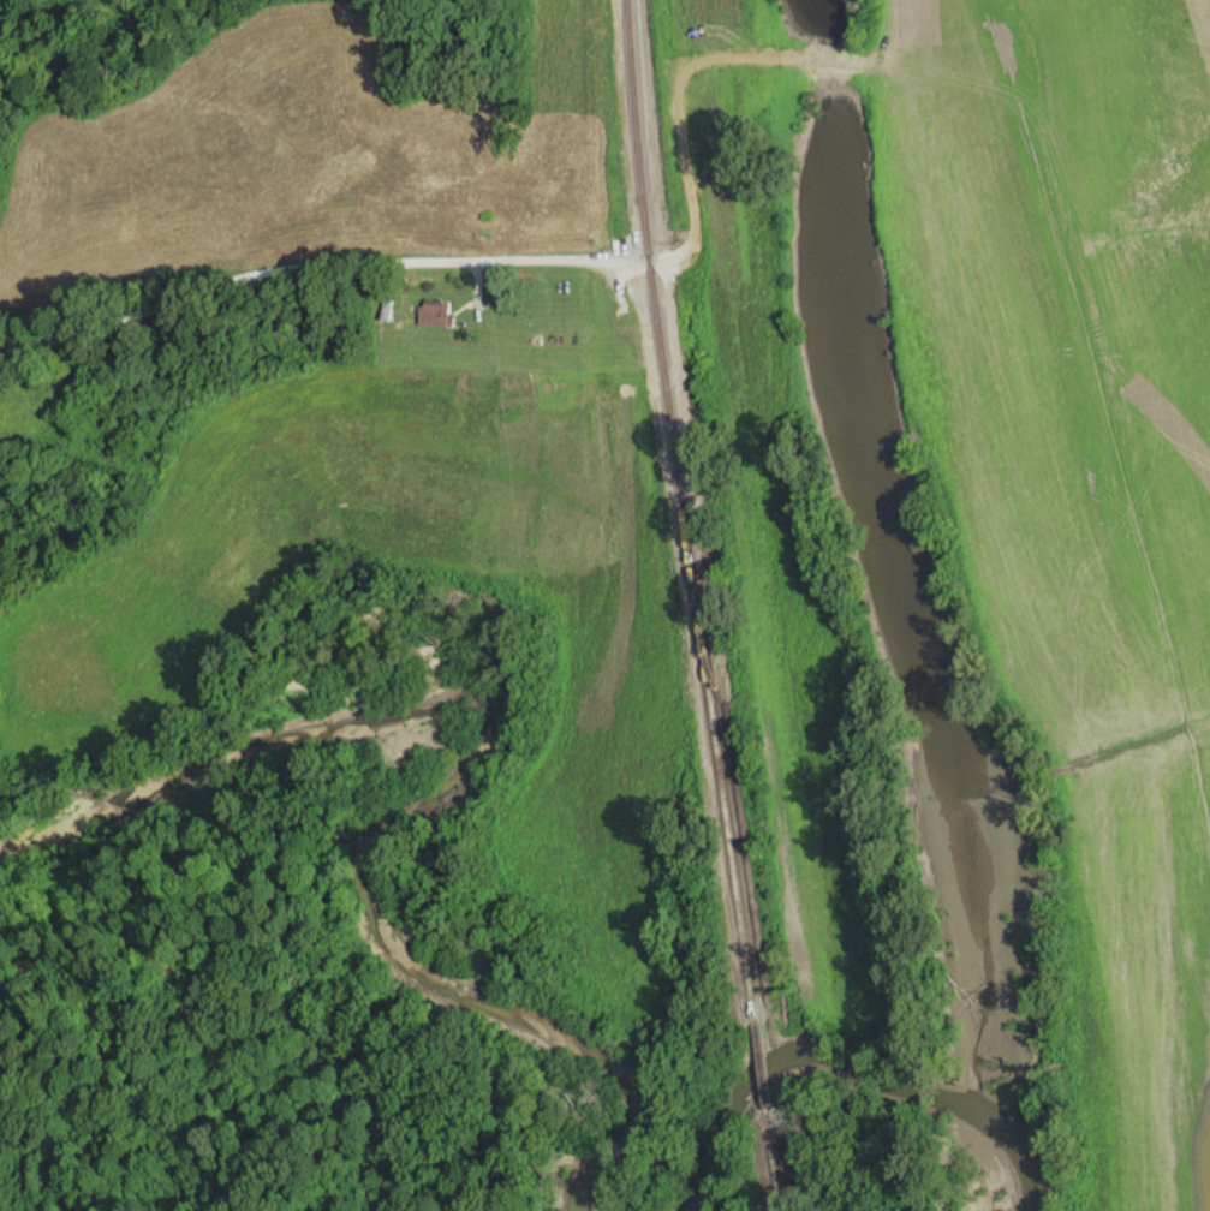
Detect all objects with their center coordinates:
road: (676, 86)
road: (316, 267)
building: (436, 312)
crop: (1080, 483)
crop: (774, 507)
railway: (697, 605)

